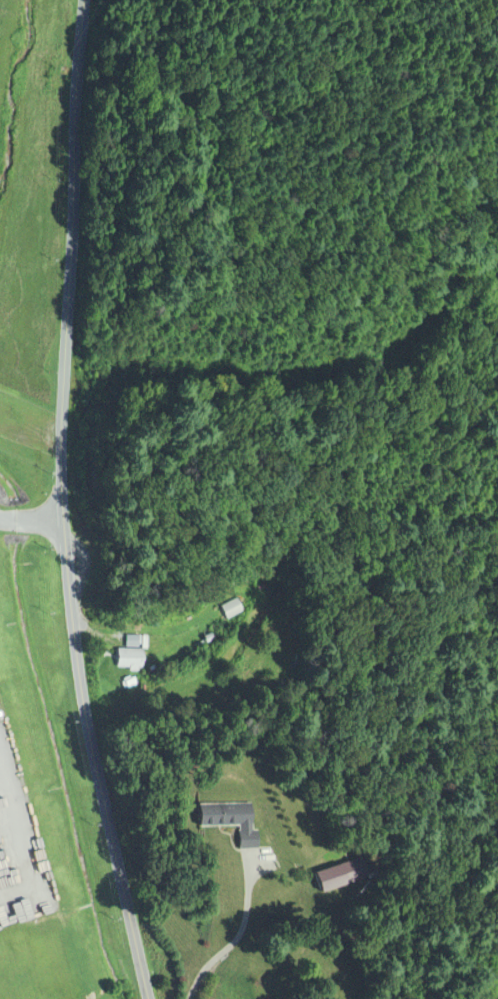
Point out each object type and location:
road: (64, 503)
road: (31, 520)
building: (230, 608)
building: (125, 641)
building: (119, 659)
building: (218, 820)
road: (82, 877)
building: (319, 878)
road: (238, 937)

